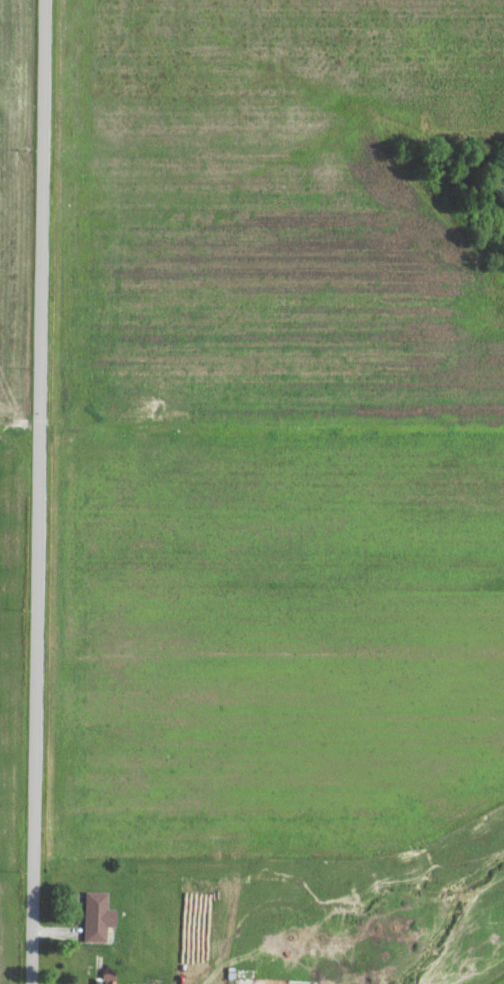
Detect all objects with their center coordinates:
road: (38, 492)
building: (90, 921)

